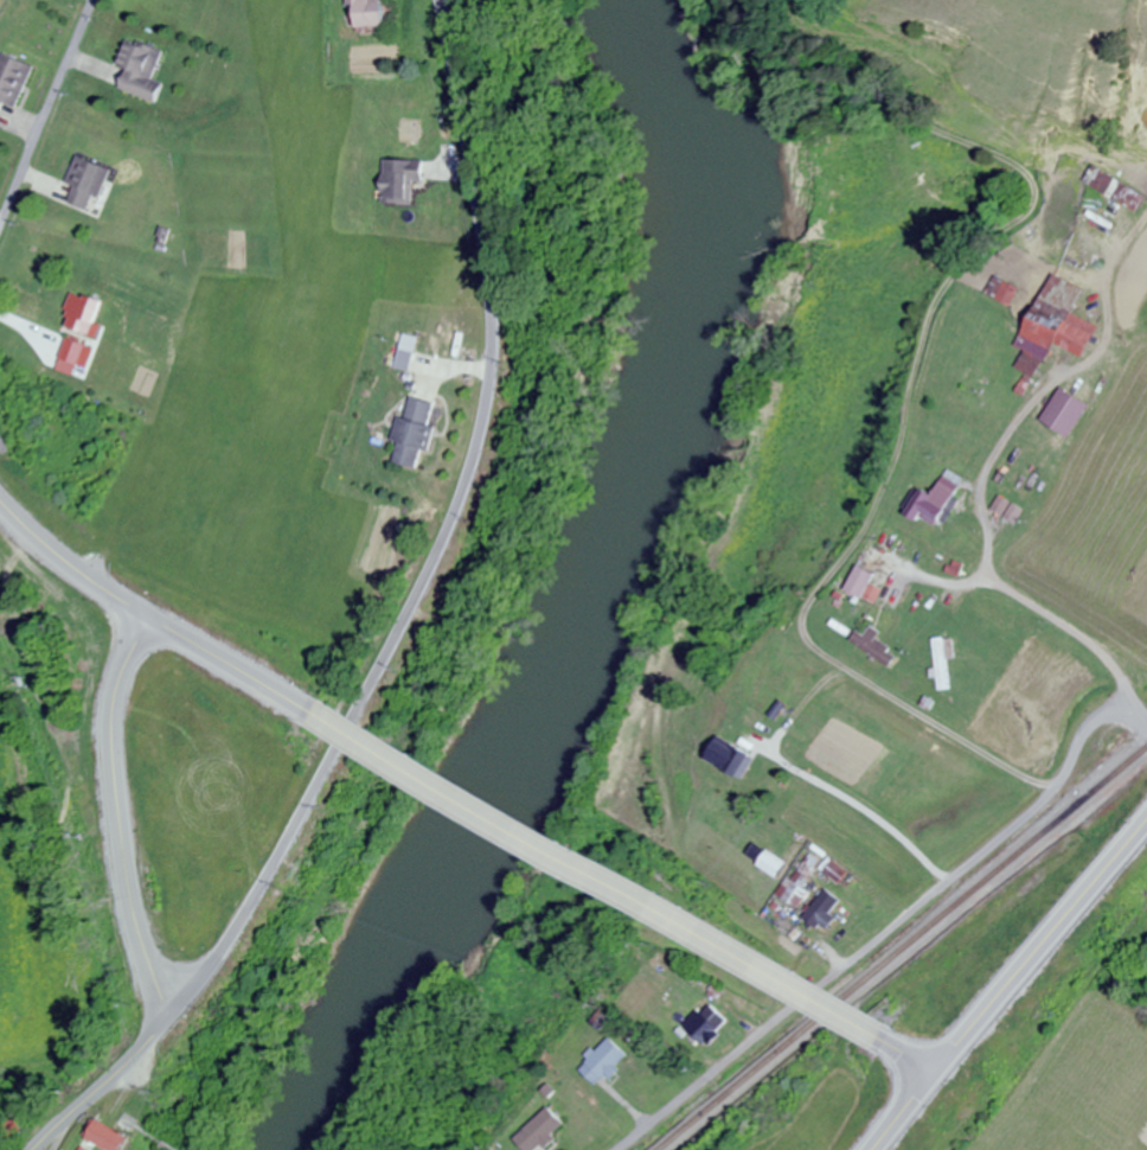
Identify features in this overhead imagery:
building: (363, 14)
building: (142, 71)
building: (13, 81)
road: (49, 117)
building: (398, 181)
building: (89, 183)
building: (1110, 190)
building: (1005, 290)
building: (88, 313)
building: (1056, 326)
building: (77, 350)
building: (40, 416)
building: (414, 432)
building: (937, 499)
building: (860, 581)
river: (581, 605)
road: (411, 624)
road: (154, 626)
road: (1069, 630)
building: (876, 646)
road: (829, 657)
building: (944, 662)
building: (787, 696)
building: (733, 760)
road: (118, 823)
building: (773, 860)
road: (600, 880)
building: (822, 908)
road: (1043, 946)
railway: (903, 947)
building: (622, 977)
building: (705, 1023)
road: (905, 1053)
building: (603, 1061)
road: (904, 1111)
building: (539, 1131)
building: (107, 1137)
building: (84, 1149)

